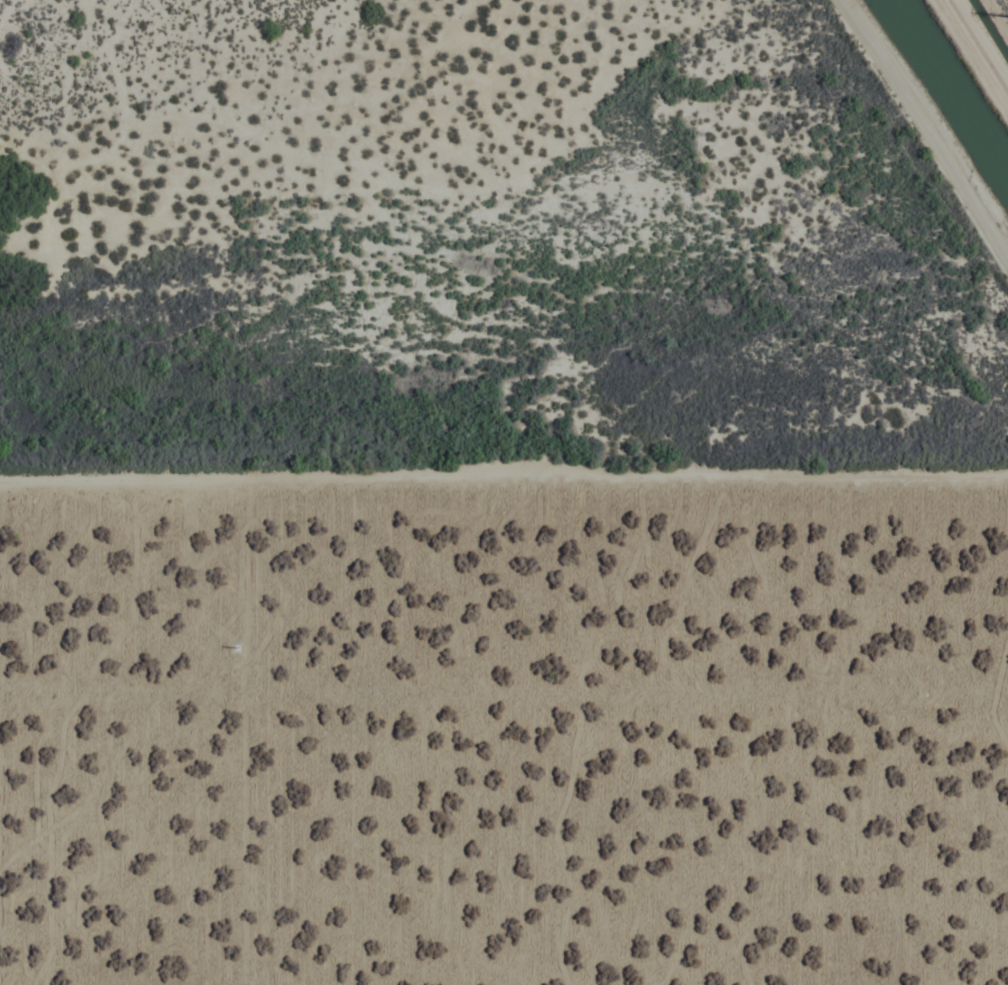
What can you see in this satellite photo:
road: (976, 49)

